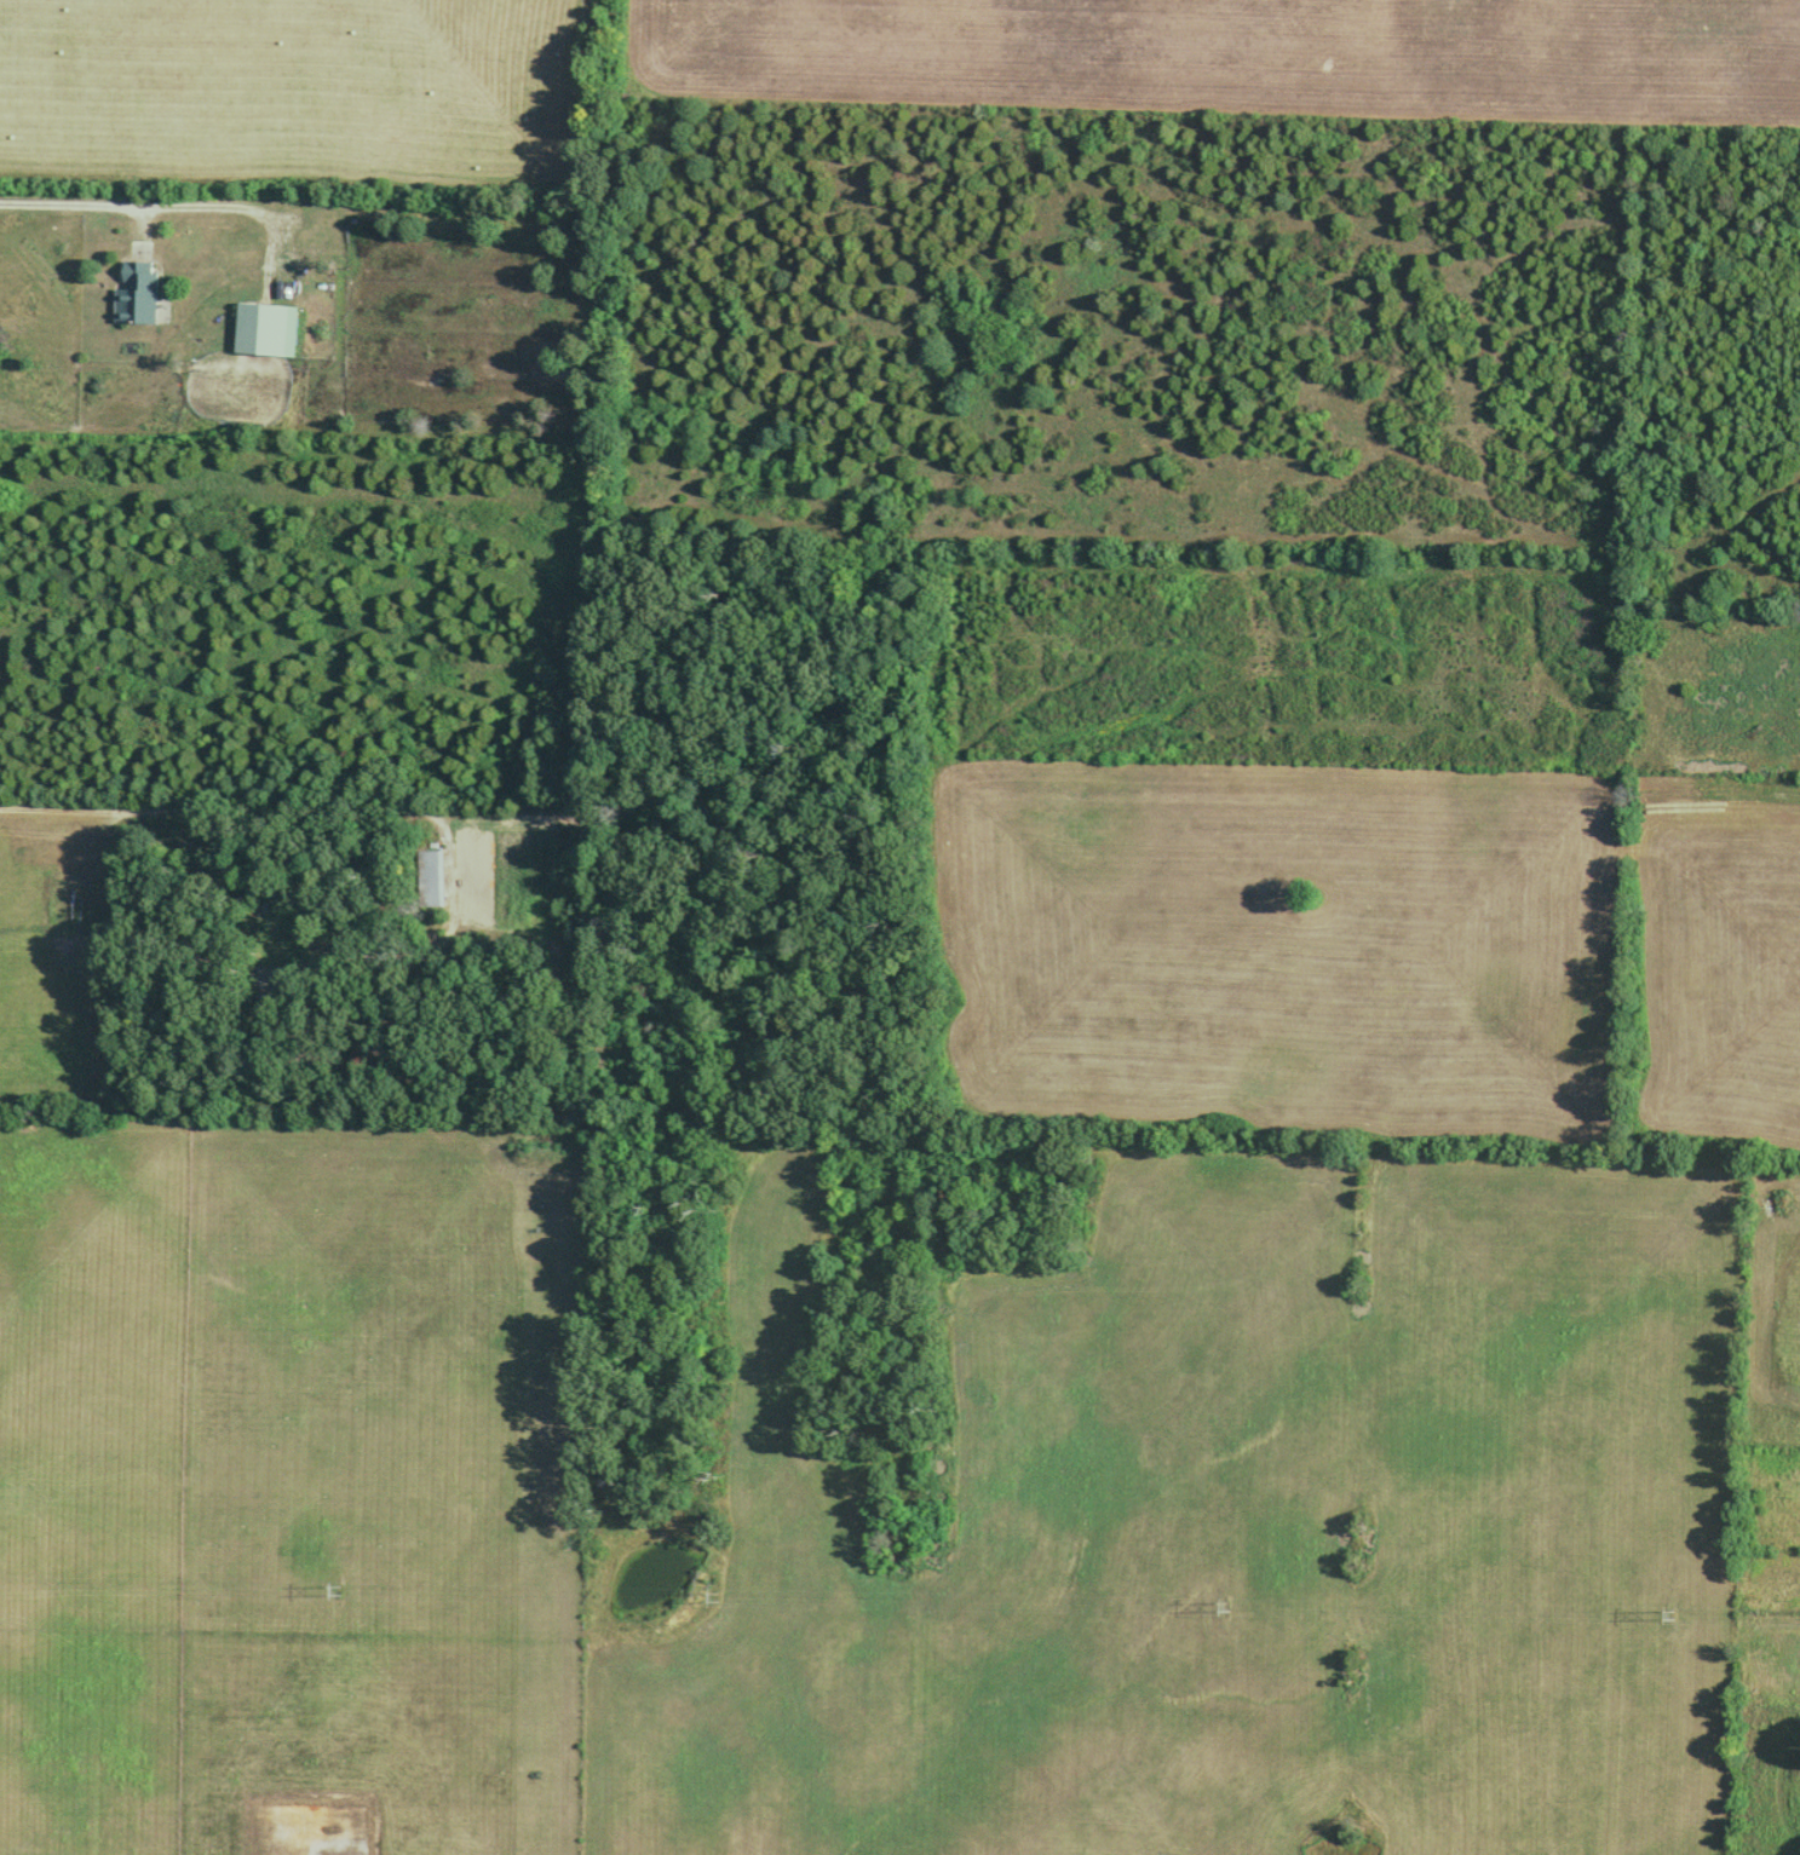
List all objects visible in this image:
road: (120, 200)
building: (136, 294)
building: (265, 330)
building: (429, 880)
power tower: (332, 1591)
power tower: (709, 1597)
power tower: (1220, 1605)
power tower: (1668, 1617)

